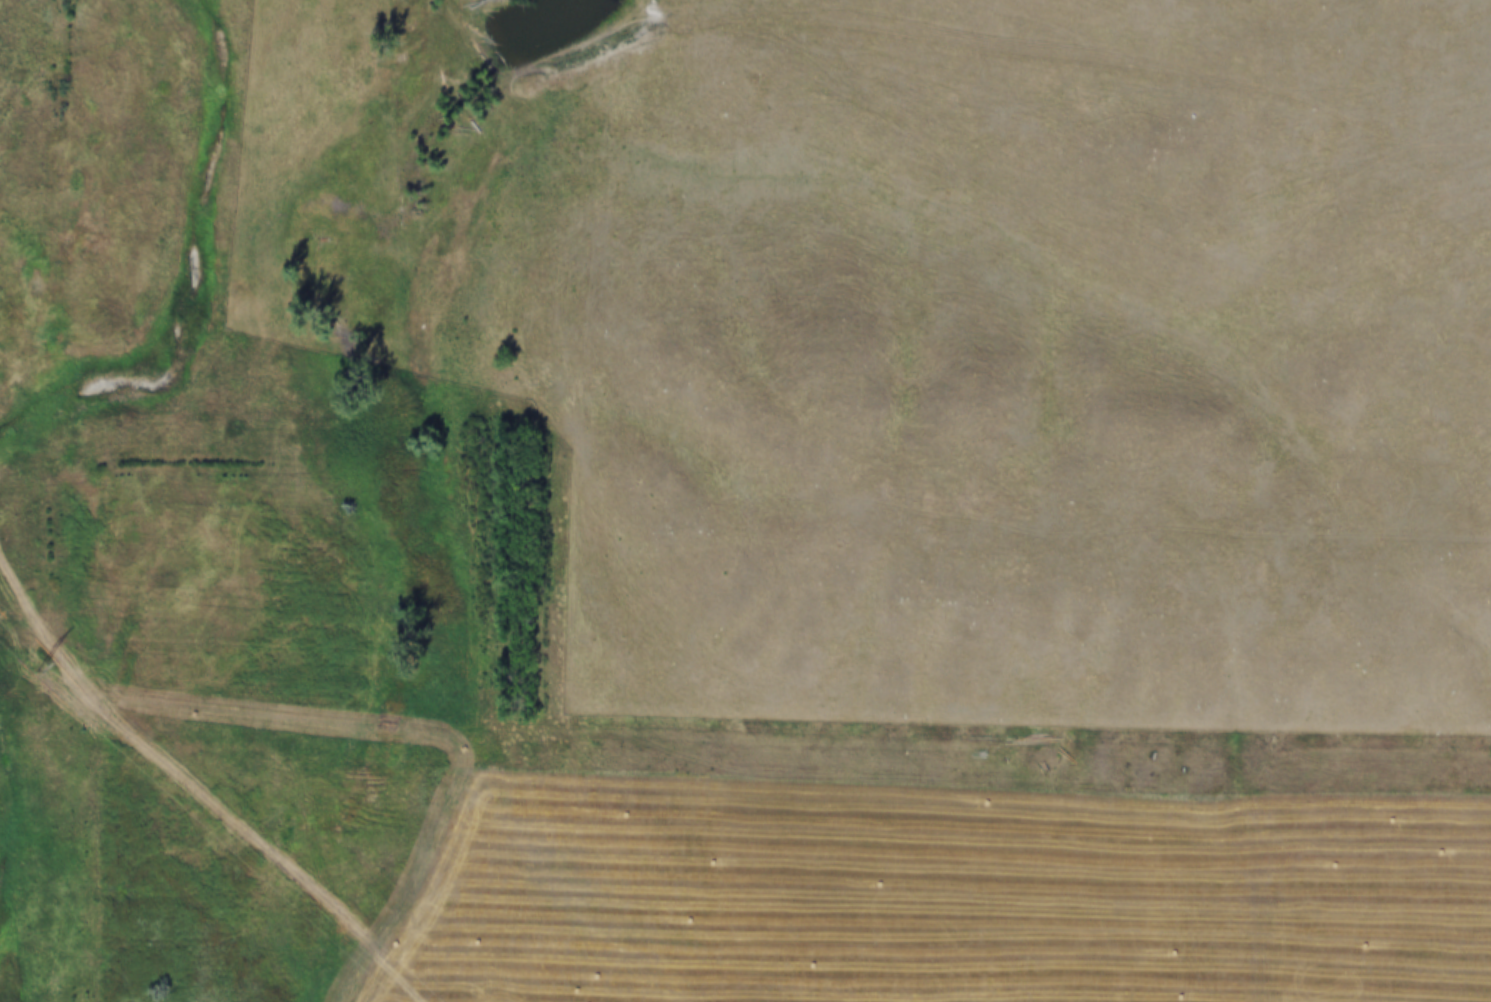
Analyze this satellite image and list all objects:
power tower: (36, 668)

